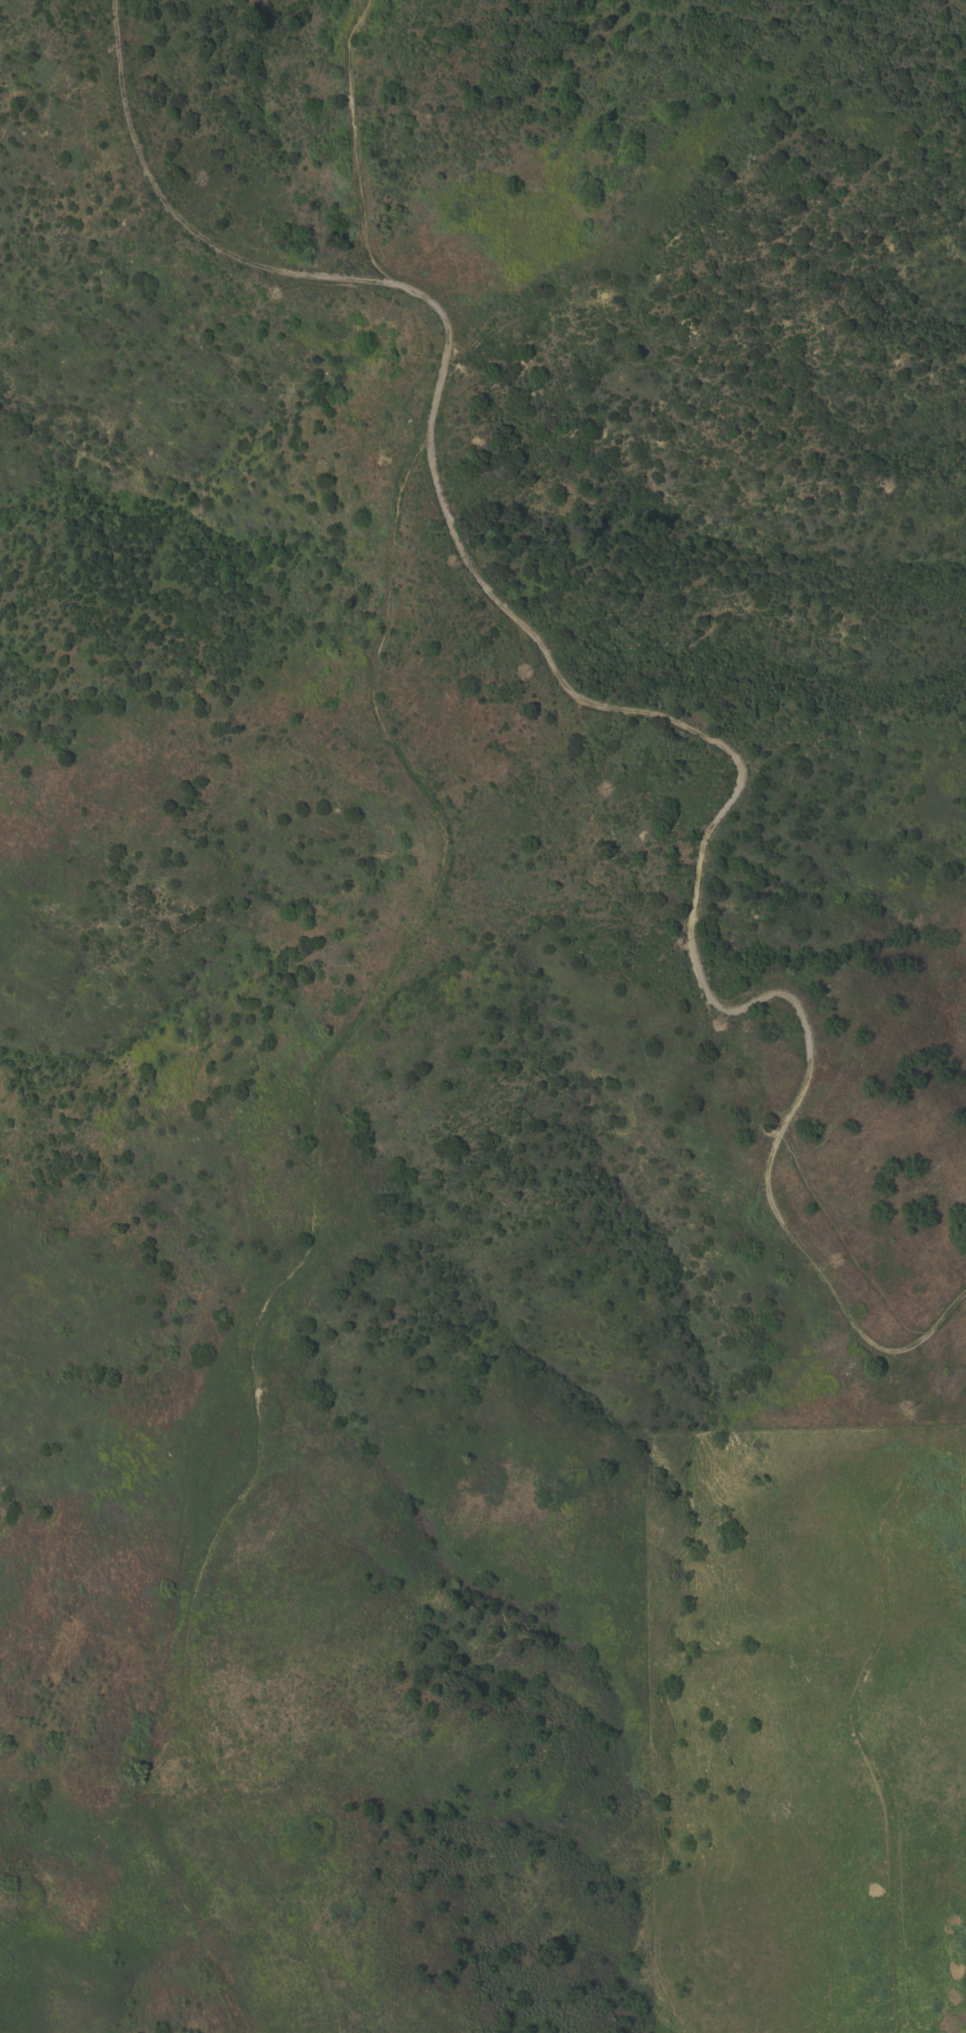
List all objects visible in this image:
road: (354, 150)
road: (611, 711)
road: (315, 1222)
road: (854, 1706)

